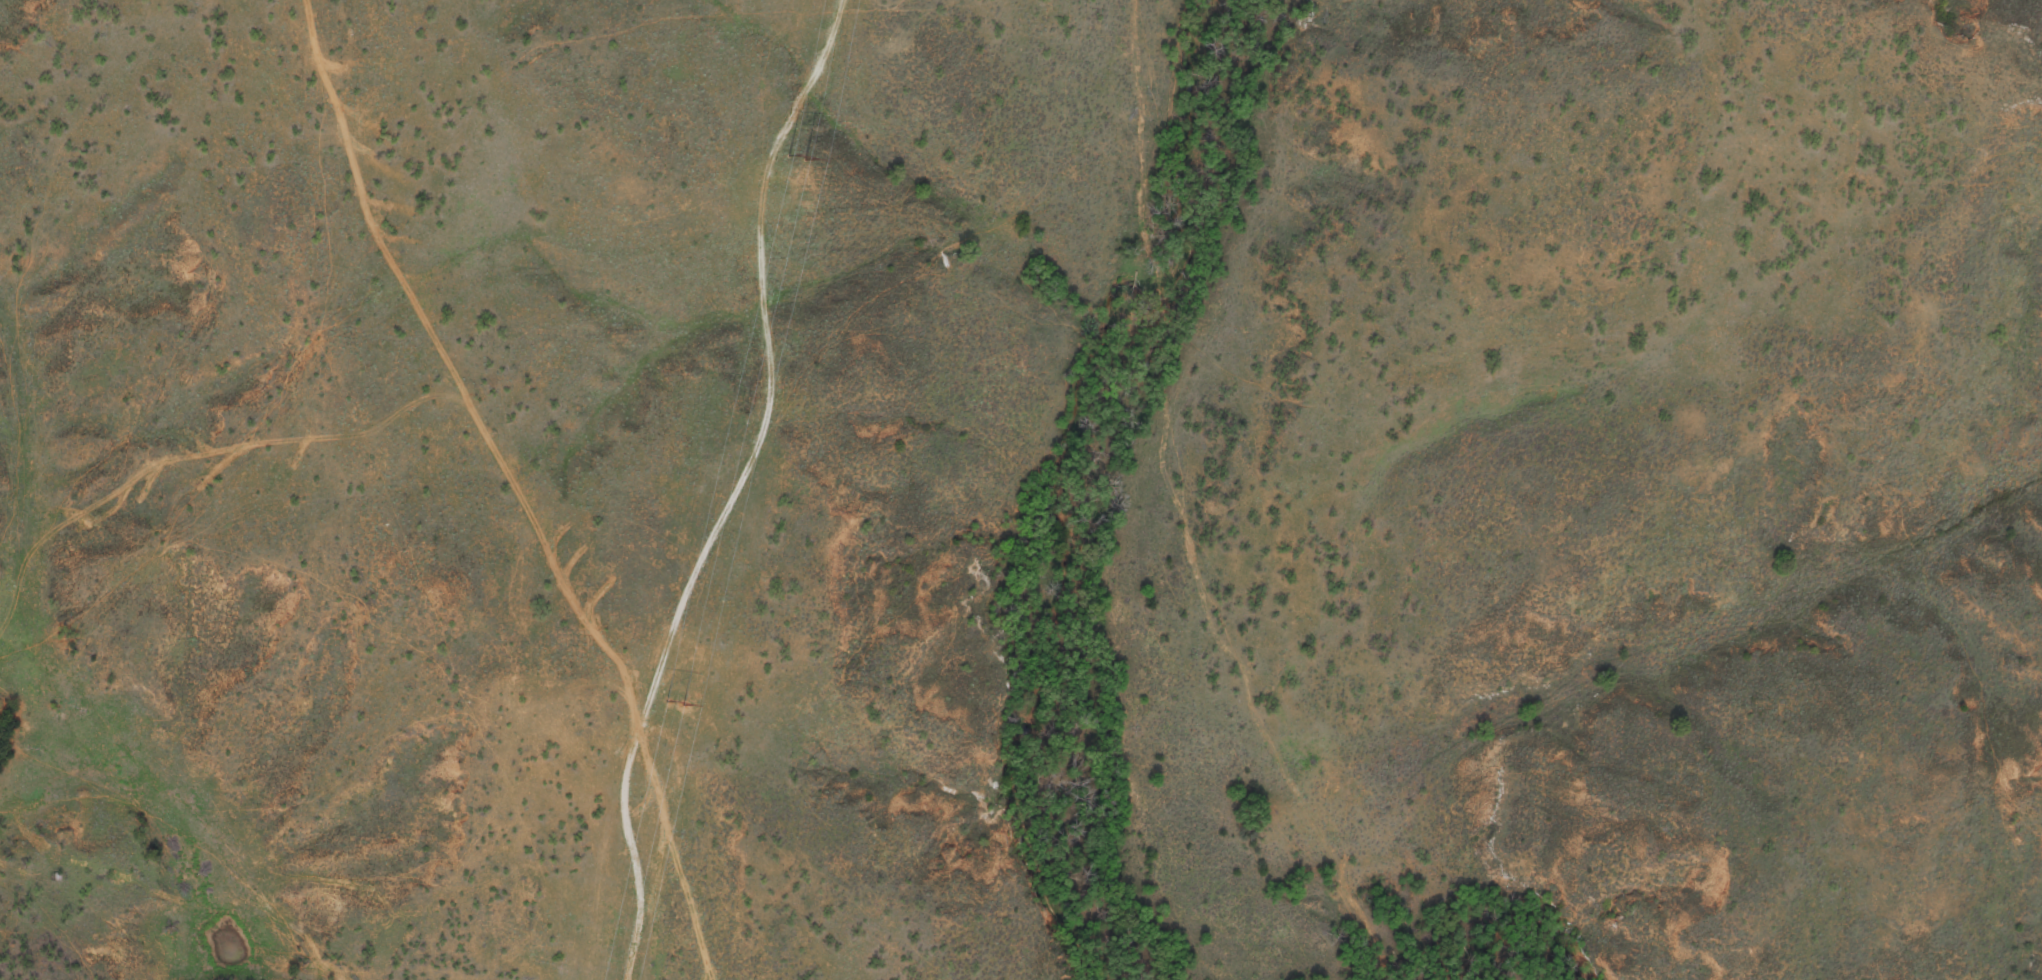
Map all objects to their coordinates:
power tower: (795, 154)
power tower: (676, 700)

